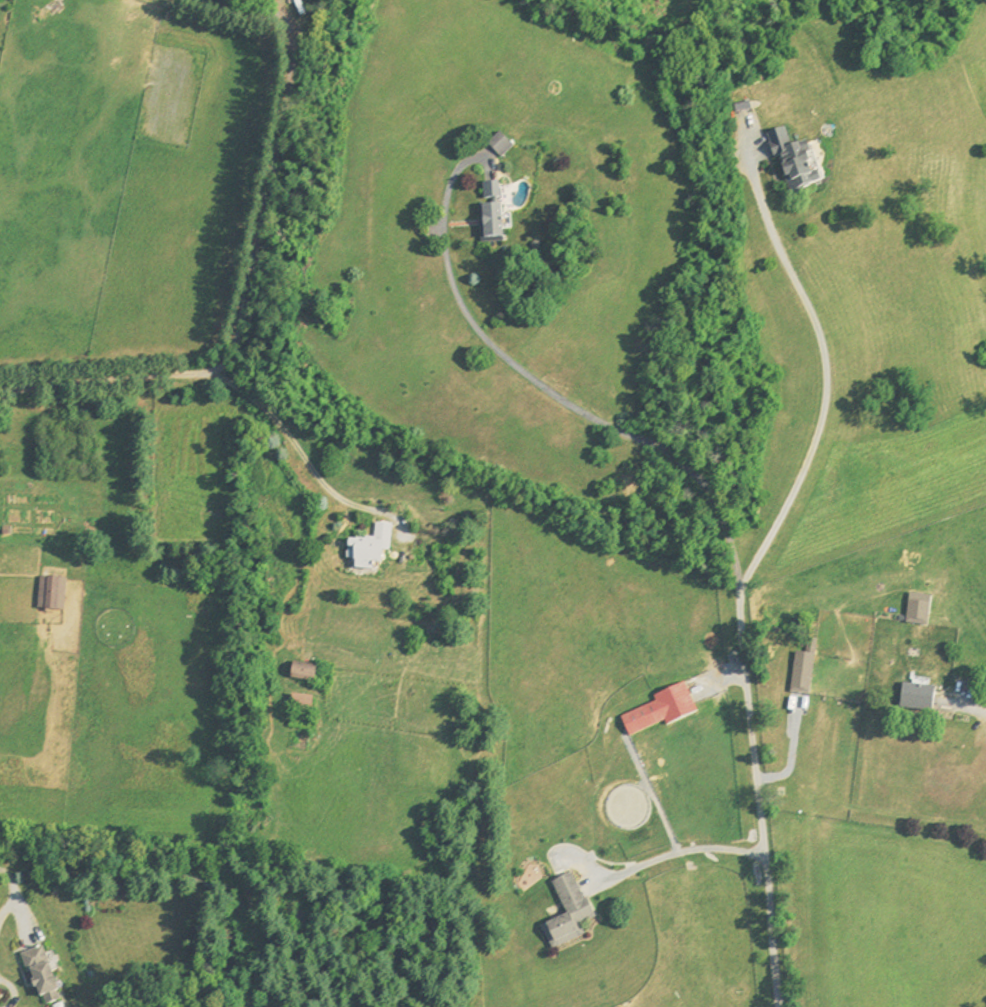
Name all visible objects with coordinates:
building: (499, 146)
building: (794, 163)
road: (266, 192)
building: (490, 194)
building: (489, 226)
road: (823, 366)
road: (101, 381)
road: (558, 393)
road: (299, 447)
building: (368, 549)
building: (50, 595)
building: (916, 612)
building: (809, 647)
building: (301, 675)
building: (800, 676)
building: (916, 701)
building: (299, 706)
building: (658, 713)
road: (981, 714)
road: (759, 799)
road: (678, 851)
road: (11, 891)
building: (566, 913)
building: (39, 976)

